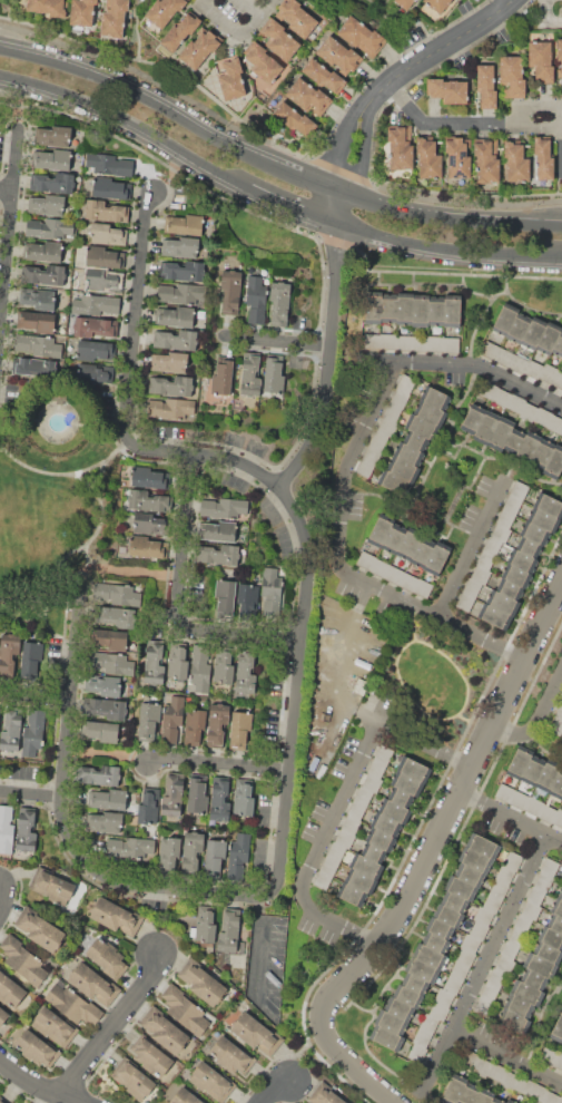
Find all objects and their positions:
road: (513, 0)
building: (405, 3)
building: (438, 4)
building: (48, 7)
building: (165, 10)
building: (81, 14)
road: (233, 16)
building: (114, 18)
building: (297, 18)
building: (181, 30)
building: (362, 36)
road: (136, 37)
building: (279, 40)
building: (200, 47)
building: (338, 55)
building: (560, 56)
building: (541, 61)
building: (263, 62)
building: (324, 75)
building: (512, 76)
building: (231, 78)
road: (390, 84)
building: (486, 86)
building: (447, 90)
building: (308, 96)
building: (292, 117)
road: (129, 119)
road: (467, 123)
building: (52, 136)
road: (273, 143)
building: (400, 146)
building: (428, 157)
building: (457, 157)
building: (51, 158)
building: (543, 158)
building: (487, 160)
road: (272, 162)
building: (516, 162)
building: (109, 164)
building: (52, 182)
building: (110, 188)
road: (8, 189)
building: (47, 204)
road: (293, 205)
building: (105, 211)
building: (184, 224)
building: (49, 227)
building: (107, 234)
road: (11, 241)
building: (180, 246)
road: (447, 247)
building: (43, 251)
building: (103, 257)
building: (181, 270)
building: (46, 274)
building: (102, 280)
building: (230, 291)
building: (181, 293)
building: (37, 297)
building: (256, 299)
building: (280, 302)
building: (96, 304)
building: (373, 309)
building: (388, 310)
building: (404, 310)
building: (421, 312)
building: (436, 313)
building: (452, 313)
road: (138, 315)
building: (175, 316)
building: (505, 319)
building: (36, 321)
building: (95, 326)
building: (519, 328)
building: (533, 332)
building: (549, 338)
building: (177, 339)
building: (372, 341)
building: (387, 341)
road: (282, 342)
building: (404, 342)
building: (435, 342)
building: (418, 343)
building: (38, 344)
building: (451, 344)
building: (559, 346)
building: (93, 350)
building: (491, 350)
building: (504, 357)
road: (385, 359)
building: (169, 361)
road: (331, 361)
building: (519, 363)
building: (34, 365)
road: (485, 368)
building: (533, 369)
building: (96, 372)
building: (549, 372)
building: (250, 374)
building: (272, 374)
building: (223, 375)
building: (558, 380)
building: (406, 383)
building: (171, 384)
building: (487, 389)
building: (400, 397)
building: (435, 397)
building: (501, 397)
building: (515, 403)
building: (170, 408)
building: (392, 411)
building: (431, 412)
building: (529, 412)
building: (543, 417)
building: (473, 419)
building: (555, 424)
building: (387, 426)
building: (422, 427)
building: (486, 427)
building: (501, 432)
building: (561, 433)
building: (378, 439)
building: (415, 440)
building: (514, 440)
building: (528, 447)
building: (373, 453)
building: (408, 453)
building: (542, 453)
building: (554, 462)
building: (364, 468)
building: (403, 468)
road: (66, 474)
building: (150, 478)
building: (392, 481)
building: (520, 490)
building: (148, 500)
building: (512, 504)
building: (549, 505)
building: (223, 507)
building: (505, 518)
building: (544, 520)
building: (150, 524)
building: (219, 530)
building: (379, 533)
building: (534, 533)
building: (501, 534)
road: (186, 537)
road: (95, 540)
building: (393, 540)
building: (408, 545)
building: (492, 546)
building: (147, 547)
road: (471, 547)
building: (529, 547)
building: (219, 554)
building: (422, 555)
road: (338, 557)
building: (436, 559)
building: (366, 560)
building: (485, 560)
building: (522, 560)
building: (379, 567)
road: (135, 572)
building: (481, 574)
building: (394, 575)
building: (516, 575)
building: (408, 582)
building: (472, 587)
building: (423, 588)
building: (270, 589)
building: (510, 589)
building: (118, 594)
building: (225, 596)
building: (247, 596)
building: (465, 602)
building: (502, 602)
road: (308, 606)
building: (116, 616)
building: (494, 616)
road: (243, 634)
building: (110, 638)
building: (9, 654)
building: (31, 658)
building: (112, 663)
building: (154, 663)
building: (178, 664)
building: (200, 667)
building: (224, 667)
building: (246, 673)
building: (107, 685)
building: (361, 685)
road: (37, 694)
building: (561, 699)
building: (106, 707)
building: (559, 710)
road: (369, 716)
road: (538, 718)
building: (172, 719)
building: (148, 721)
building: (217, 724)
building: (554, 724)
building: (194, 725)
building: (239, 729)
building: (11, 730)
building: (101, 731)
building: (33, 732)
road: (425, 743)
building: (383, 754)
road: (221, 761)
building: (520, 761)
building: (376, 768)
building: (414, 769)
building: (533, 770)
building: (100, 774)
building: (548, 774)
building: (372, 782)
building: (407, 783)
building: (556, 785)
building: (504, 792)
road: (31, 793)
building: (172, 794)
building: (197, 795)
building: (363, 795)
building: (401, 797)
building: (244, 798)
building: (108, 799)
building: (219, 799)
building: (519, 799)
road: (338, 804)
building: (533, 806)
building: (148, 807)
building: (356, 810)
building: (394, 811)
building: (548, 813)
road: (65, 814)
road: (510, 814)
building: (558, 818)
road: (444, 819)
building: (103, 821)
building: (351, 824)
building: (385, 824)
building: (26, 829)
building: (6, 830)
building: (345, 839)
building: (381, 839)
building: (483, 845)
building: (131, 847)
building: (168, 851)
building: (191, 851)
building: (336, 851)
building: (373, 852)
building: (215, 856)
building: (238, 857)
building: (475, 860)
building: (513, 860)
building: (329, 866)
building: (366, 866)
building: (549, 867)
building: (504, 873)
building: (469, 875)
building: (322, 880)
building: (359, 880)
building: (543, 881)
building: (51, 885)
building: (461, 888)
building: (499, 889)
building: (351, 894)
building: (535, 895)
building: (560, 895)
building: (454, 901)
building: (492, 902)
building: (556, 907)
building: (531, 910)
building: (447, 915)
building: (116, 916)
building: (483, 916)
road: (332, 921)
building: (522, 923)
building: (555, 923)
building: (206, 927)
building: (438, 928)
building: (40, 929)
building: (229, 930)
building: (479, 930)
building: (516, 936)
building: (551, 937)
building: (435, 941)
building: (470, 943)
road: (259, 945)
building: (509, 949)
building: (548, 951)
building: (428, 956)
building: (107, 957)
building: (465, 957)
road: (484, 958)
building: (23, 959)
building: (505, 965)
building: (541, 965)
building: (422, 970)
building: (460, 970)
building: (496, 978)
building: (534, 979)
building: (203, 983)
building: (414, 983)
building: (93, 984)
building: (452, 985)
building: (9, 989)
building: (489, 992)
building: (525, 992)
building: (407, 995)
building: (443, 997)
building: (72, 1005)
building: (483, 1006)
building: (519, 1006)
building: (398, 1008)
building: (185, 1009)
building: (438, 1011)
building: (2, 1016)
building: (513, 1021)
building: (391, 1022)
building: (428, 1024)
road: (114, 1025)
building: (55, 1026)
building: (558, 1028)
building: (164, 1029)
building: (256, 1033)
building: (386, 1037)
building: (422, 1037)
building: (37, 1050)
road: (299, 1051)
building: (416, 1052)
road: (506, 1054)
building: (150, 1056)
building: (233, 1056)
building: (548, 1056)
building: (469, 1058)
building: (558, 1061)
building: (482, 1066)
building: (496, 1071)
road: (364, 1074)
building: (132, 1078)
building: (509, 1080)
building: (211, 1081)
road: (37, 1084)
building: (523, 1084)
building: (454, 1089)
road: (272, 1091)
building: (538, 1092)
building: (469, 1093)
building: (326, 1095)
building: (483, 1095)
building: (186, 1096)
building: (551, 1097)
building: (560, 1100)
building: (2, 1101)
building: (496, 1101)
building: (511, 1101)

